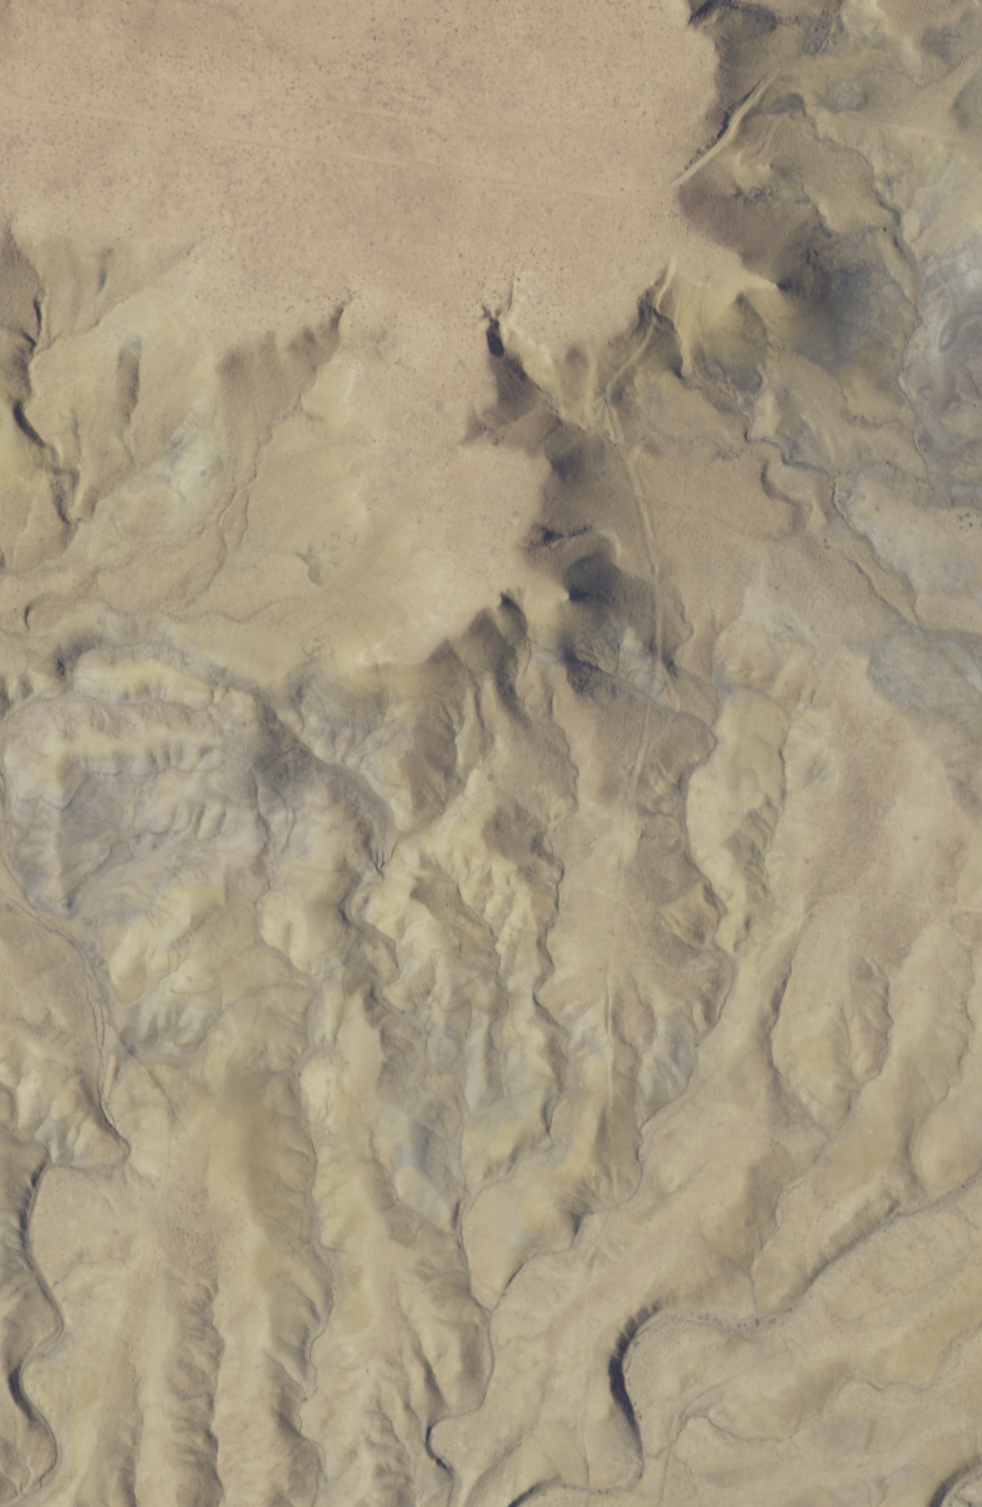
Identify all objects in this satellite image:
road: (521, 181)
road: (817, 1433)

